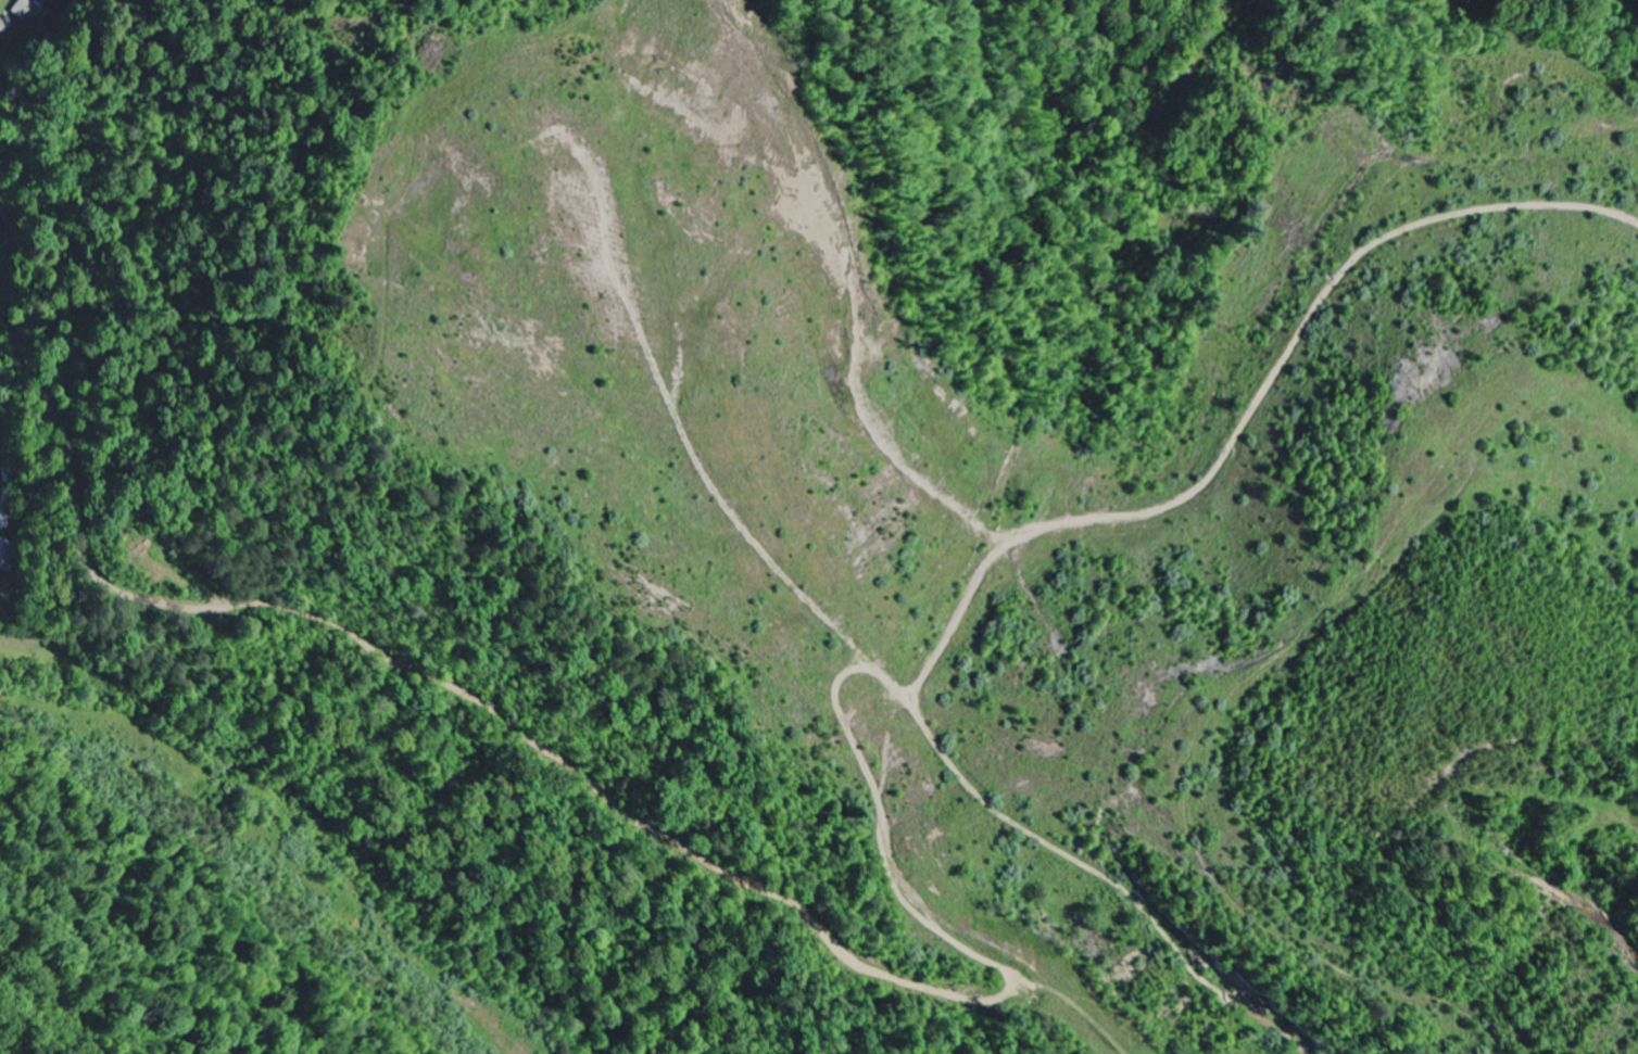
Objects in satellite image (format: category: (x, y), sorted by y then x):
building: (29, 9)

